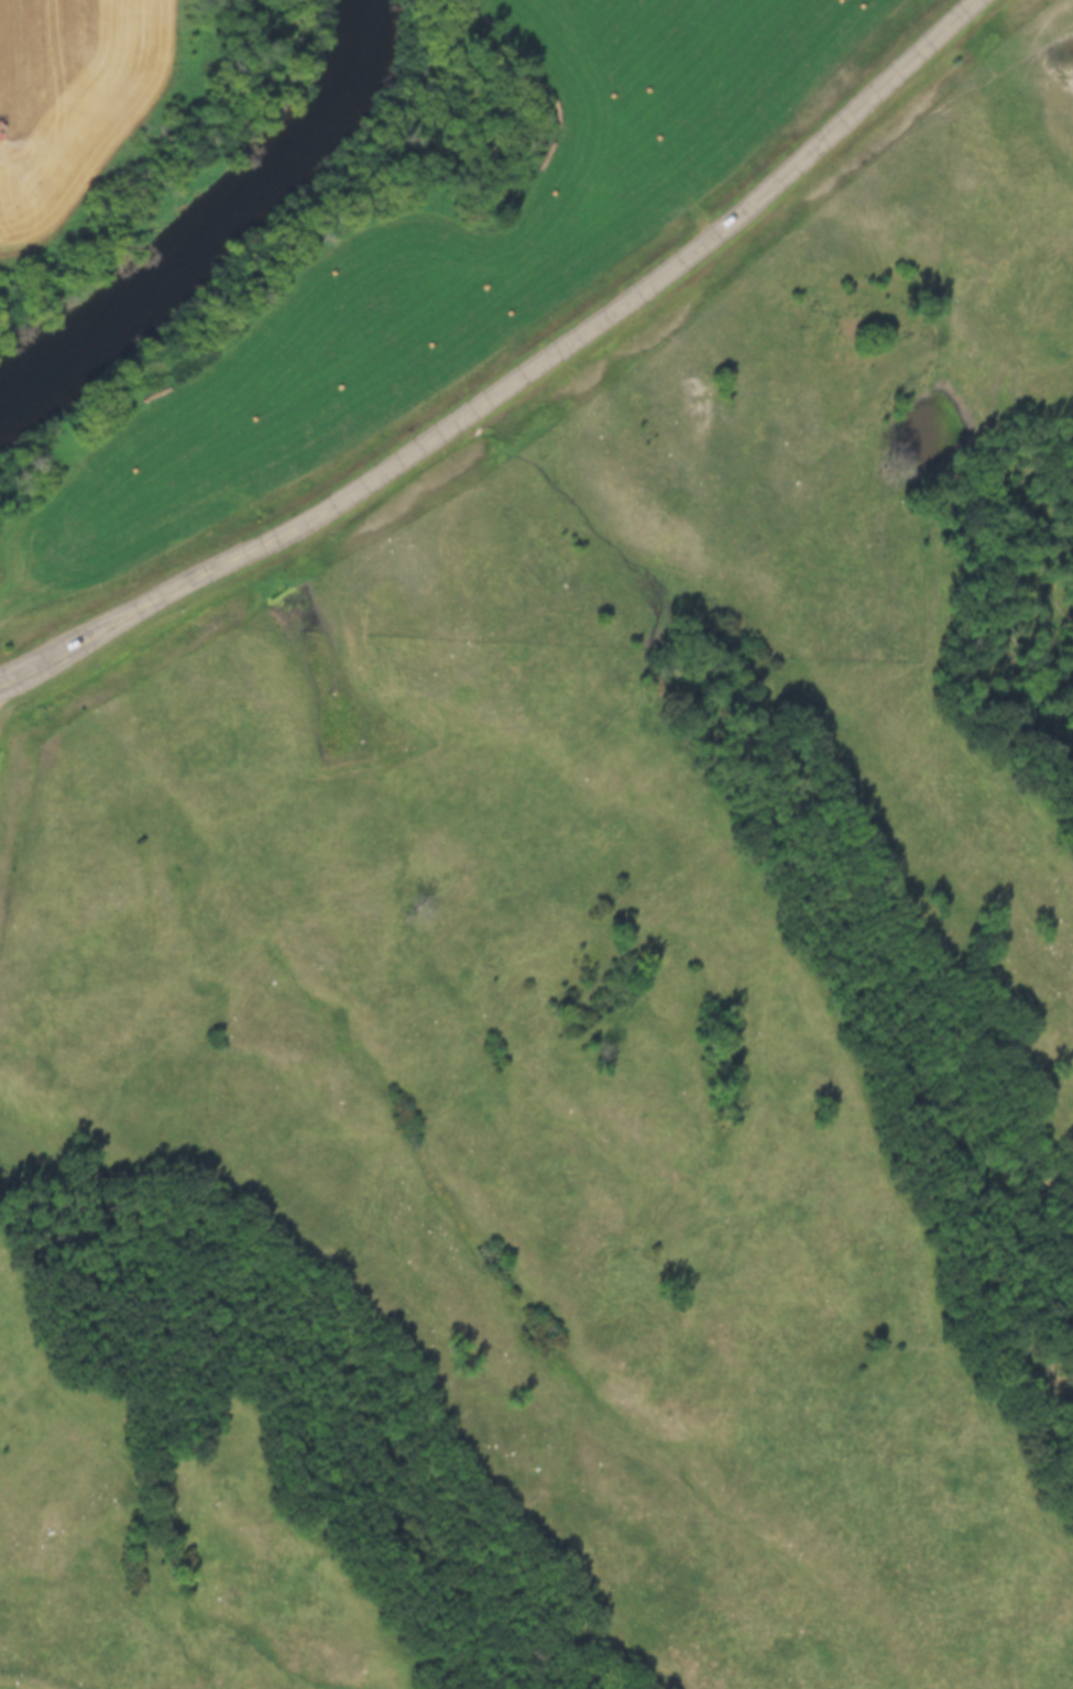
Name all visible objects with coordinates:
road: (131, 154)
river: (223, 231)
road: (521, 385)

